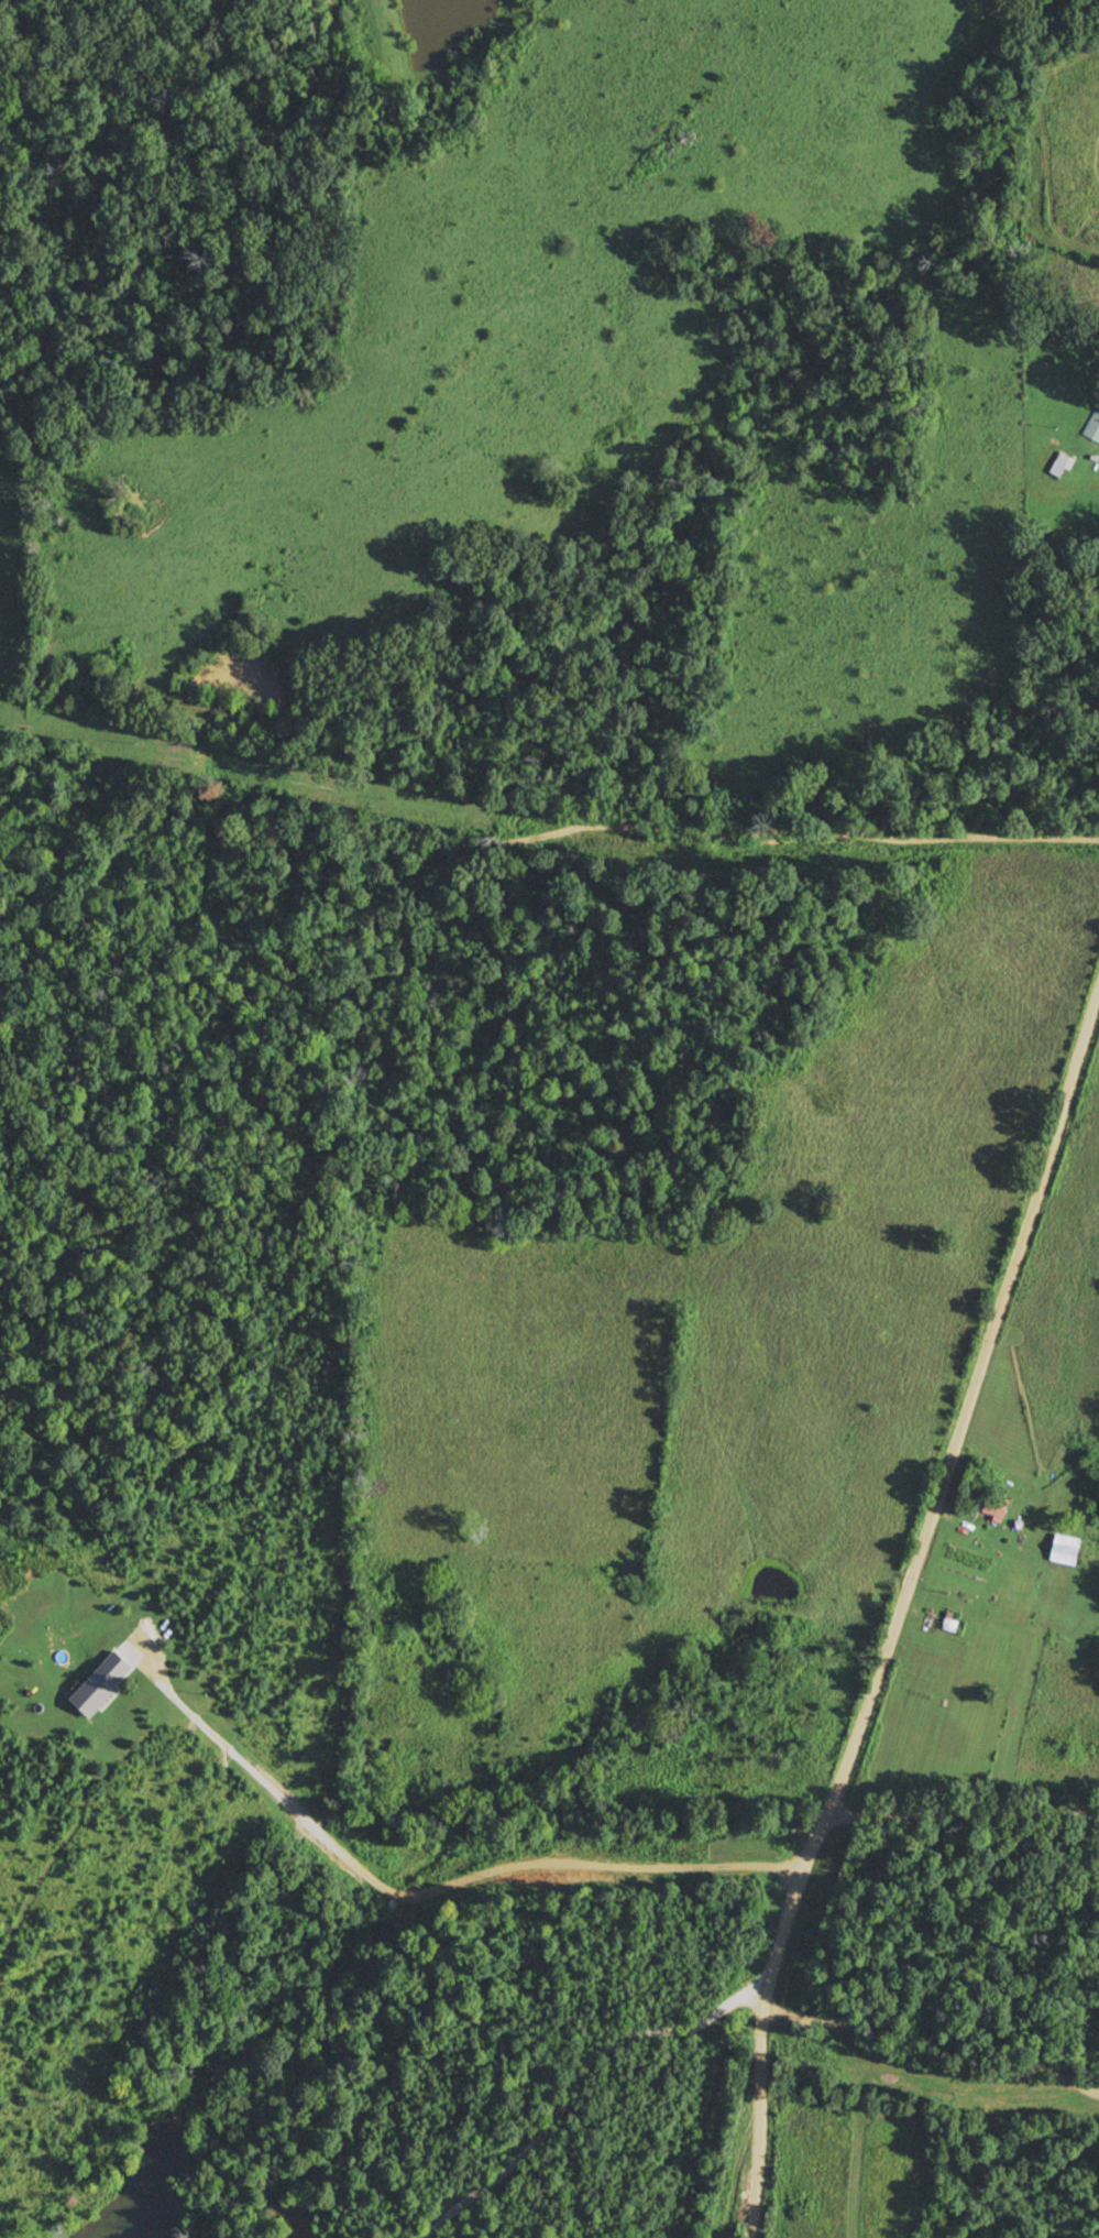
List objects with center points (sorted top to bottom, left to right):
building: (1093, 426)
building: (1063, 465)
road: (548, 826)
building: (998, 1508)
building: (1065, 1551)
road: (900, 1608)
road: (963, 1815)

